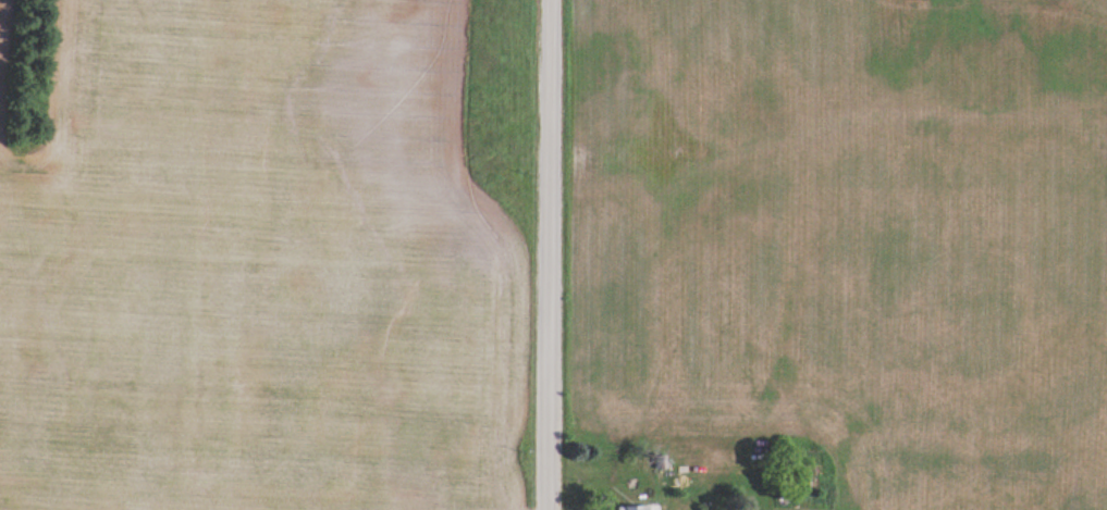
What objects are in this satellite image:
building: (548, 190)
road: (548, 254)
building: (727, 460)
building: (637, 507)

